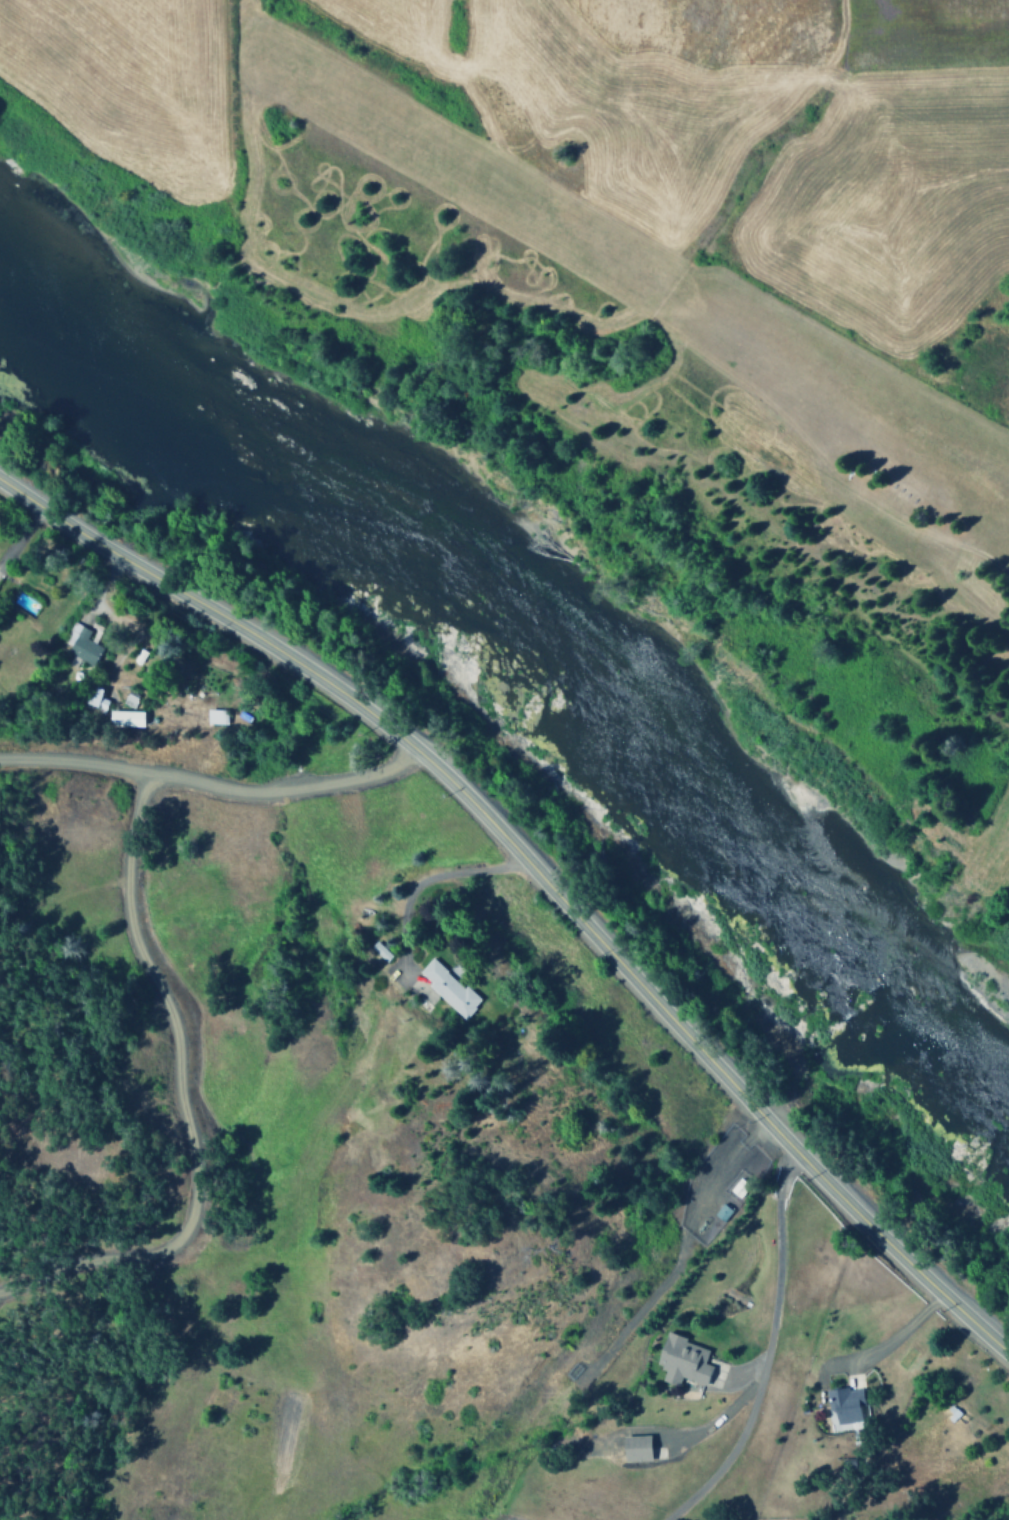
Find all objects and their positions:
airport runway: (640, 278)
airport: (668, 438)
building: (80, 643)
river: (525, 667)
building: (94, 698)
building: (215, 716)
building: (125, 718)
road: (83, 765)
road: (539, 871)
building: (379, 951)
road: (146, 969)
building: (447, 988)
building: (721, 1212)
road: (679, 1256)
road: (7, 1298)
road: (767, 1347)
building: (681, 1361)
building: (842, 1407)
building: (635, 1448)

